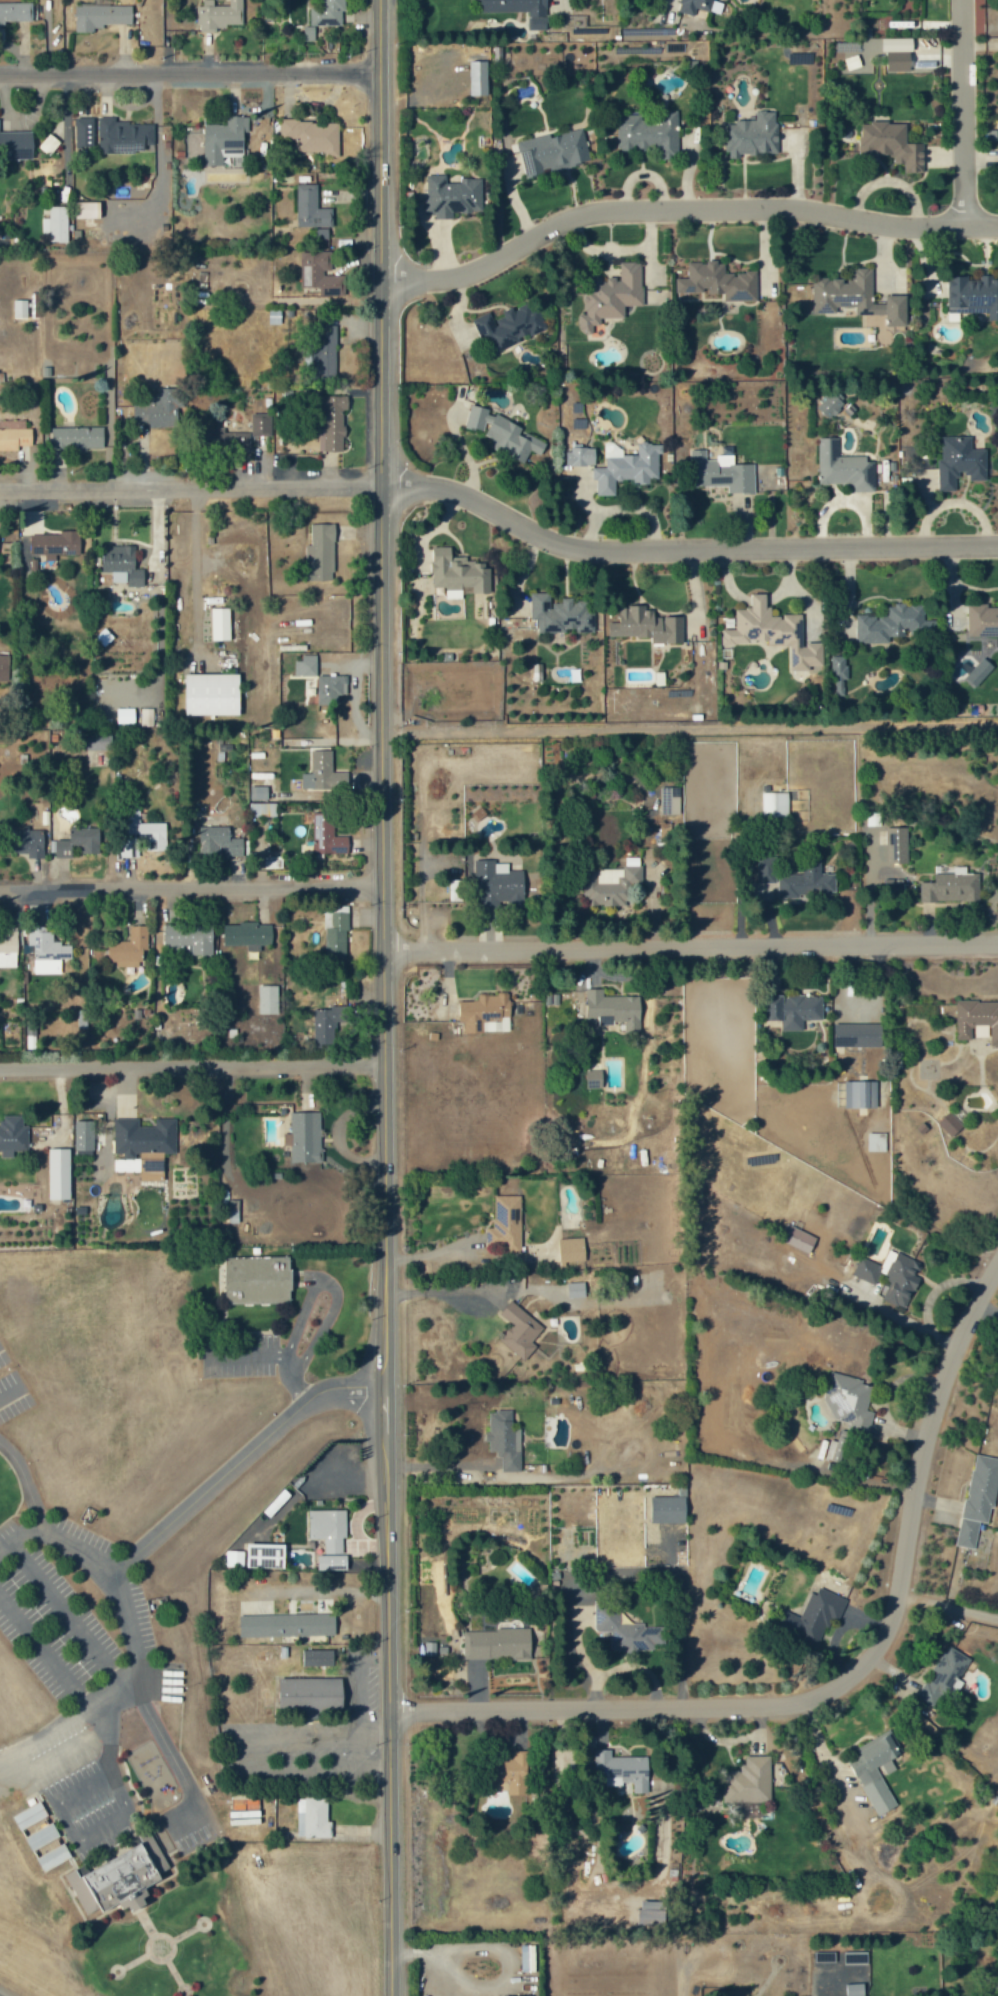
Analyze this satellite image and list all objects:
building: (697, 6)
building: (323, 9)
building: (520, 10)
building: (16, 12)
building: (101, 15)
building: (219, 15)
road: (187, 68)
road: (963, 112)
building: (81, 126)
building: (308, 130)
road: (63, 131)
building: (119, 131)
building: (650, 134)
building: (221, 135)
building: (752, 135)
building: (45, 139)
building: (14, 140)
building: (892, 143)
building: (553, 151)
building: (452, 195)
building: (307, 203)
building: (84, 205)
road: (680, 213)
building: (52, 219)
building: (320, 273)
building: (719, 281)
building: (611, 296)
building: (973, 296)
building: (20, 308)
building: (274, 317)
building: (510, 325)
building: (325, 351)
building: (830, 404)
building: (159, 409)
building: (479, 418)
building: (332, 422)
building: (261, 426)
building: (237, 429)
building: (14, 434)
building: (77, 437)
building: (513, 439)
building: (237, 440)
building: (581, 456)
building: (960, 461)
building: (626, 467)
building: (843, 467)
road: (188, 483)
building: (48, 546)
road: (679, 552)
building: (320, 553)
building: (123, 565)
building: (458, 573)
building: (561, 614)
building: (982, 620)
building: (220, 624)
building: (893, 624)
building: (647, 625)
building: (774, 632)
building: (305, 665)
building: (3, 667)
building: (839, 667)
building: (331, 688)
building: (212, 694)
road: (690, 729)
building: (100, 741)
building: (324, 773)
building: (259, 793)
building: (670, 801)
building: (775, 804)
building: (264, 809)
building: (323, 833)
building: (152, 835)
building: (24, 841)
building: (219, 841)
building: (79, 842)
building: (897, 845)
building: (272, 862)
building: (766, 869)
road: (191, 882)
building: (807, 883)
building: (499, 884)
building: (951, 888)
building: (602, 892)
building: (336, 932)
building: (247, 935)
building: (188, 939)
road: (691, 947)
building: (8, 948)
building: (129, 948)
building: (48, 952)
road: (383, 997)
building: (268, 999)
building: (614, 1009)
building: (793, 1010)
building: (483, 1011)
building: (977, 1020)
building: (327, 1024)
building: (858, 1035)
road: (191, 1066)
building: (594, 1077)
building: (952, 1121)
building: (13, 1135)
building: (84, 1136)
building: (144, 1136)
building: (306, 1137)
building: (152, 1170)
building: (59, 1174)
building: (233, 1211)
building: (507, 1223)
building: (798, 1239)
building: (572, 1250)
building: (866, 1270)
building: (258, 1280)
building: (901, 1280)
road: (335, 1284)
building: (576, 1290)
road: (438, 1291)
building: (520, 1330)
road: (277, 1355)
building: (507, 1433)
road: (241, 1456)
road: (28, 1480)
building: (979, 1497)
building: (328, 1528)
road: (56, 1536)
building: (266, 1555)
building: (234, 1558)
road: (946, 1602)
building: (814, 1616)
building: (287, 1625)
building: (626, 1630)
building: (497, 1643)
building: (317, 1657)
building: (951, 1673)
road: (116, 1690)
road: (835, 1690)
building: (309, 1695)
building: (623, 1769)
building: (513, 1772)
building: (875, 1775)
building: (750, 1780)
building: (313, 1817)
building: (42, 1835)
building: (54, 1857)
building: (119, 1878)
building: (651, 1917)
building: (528, 1958)
building: (855, 1989)

